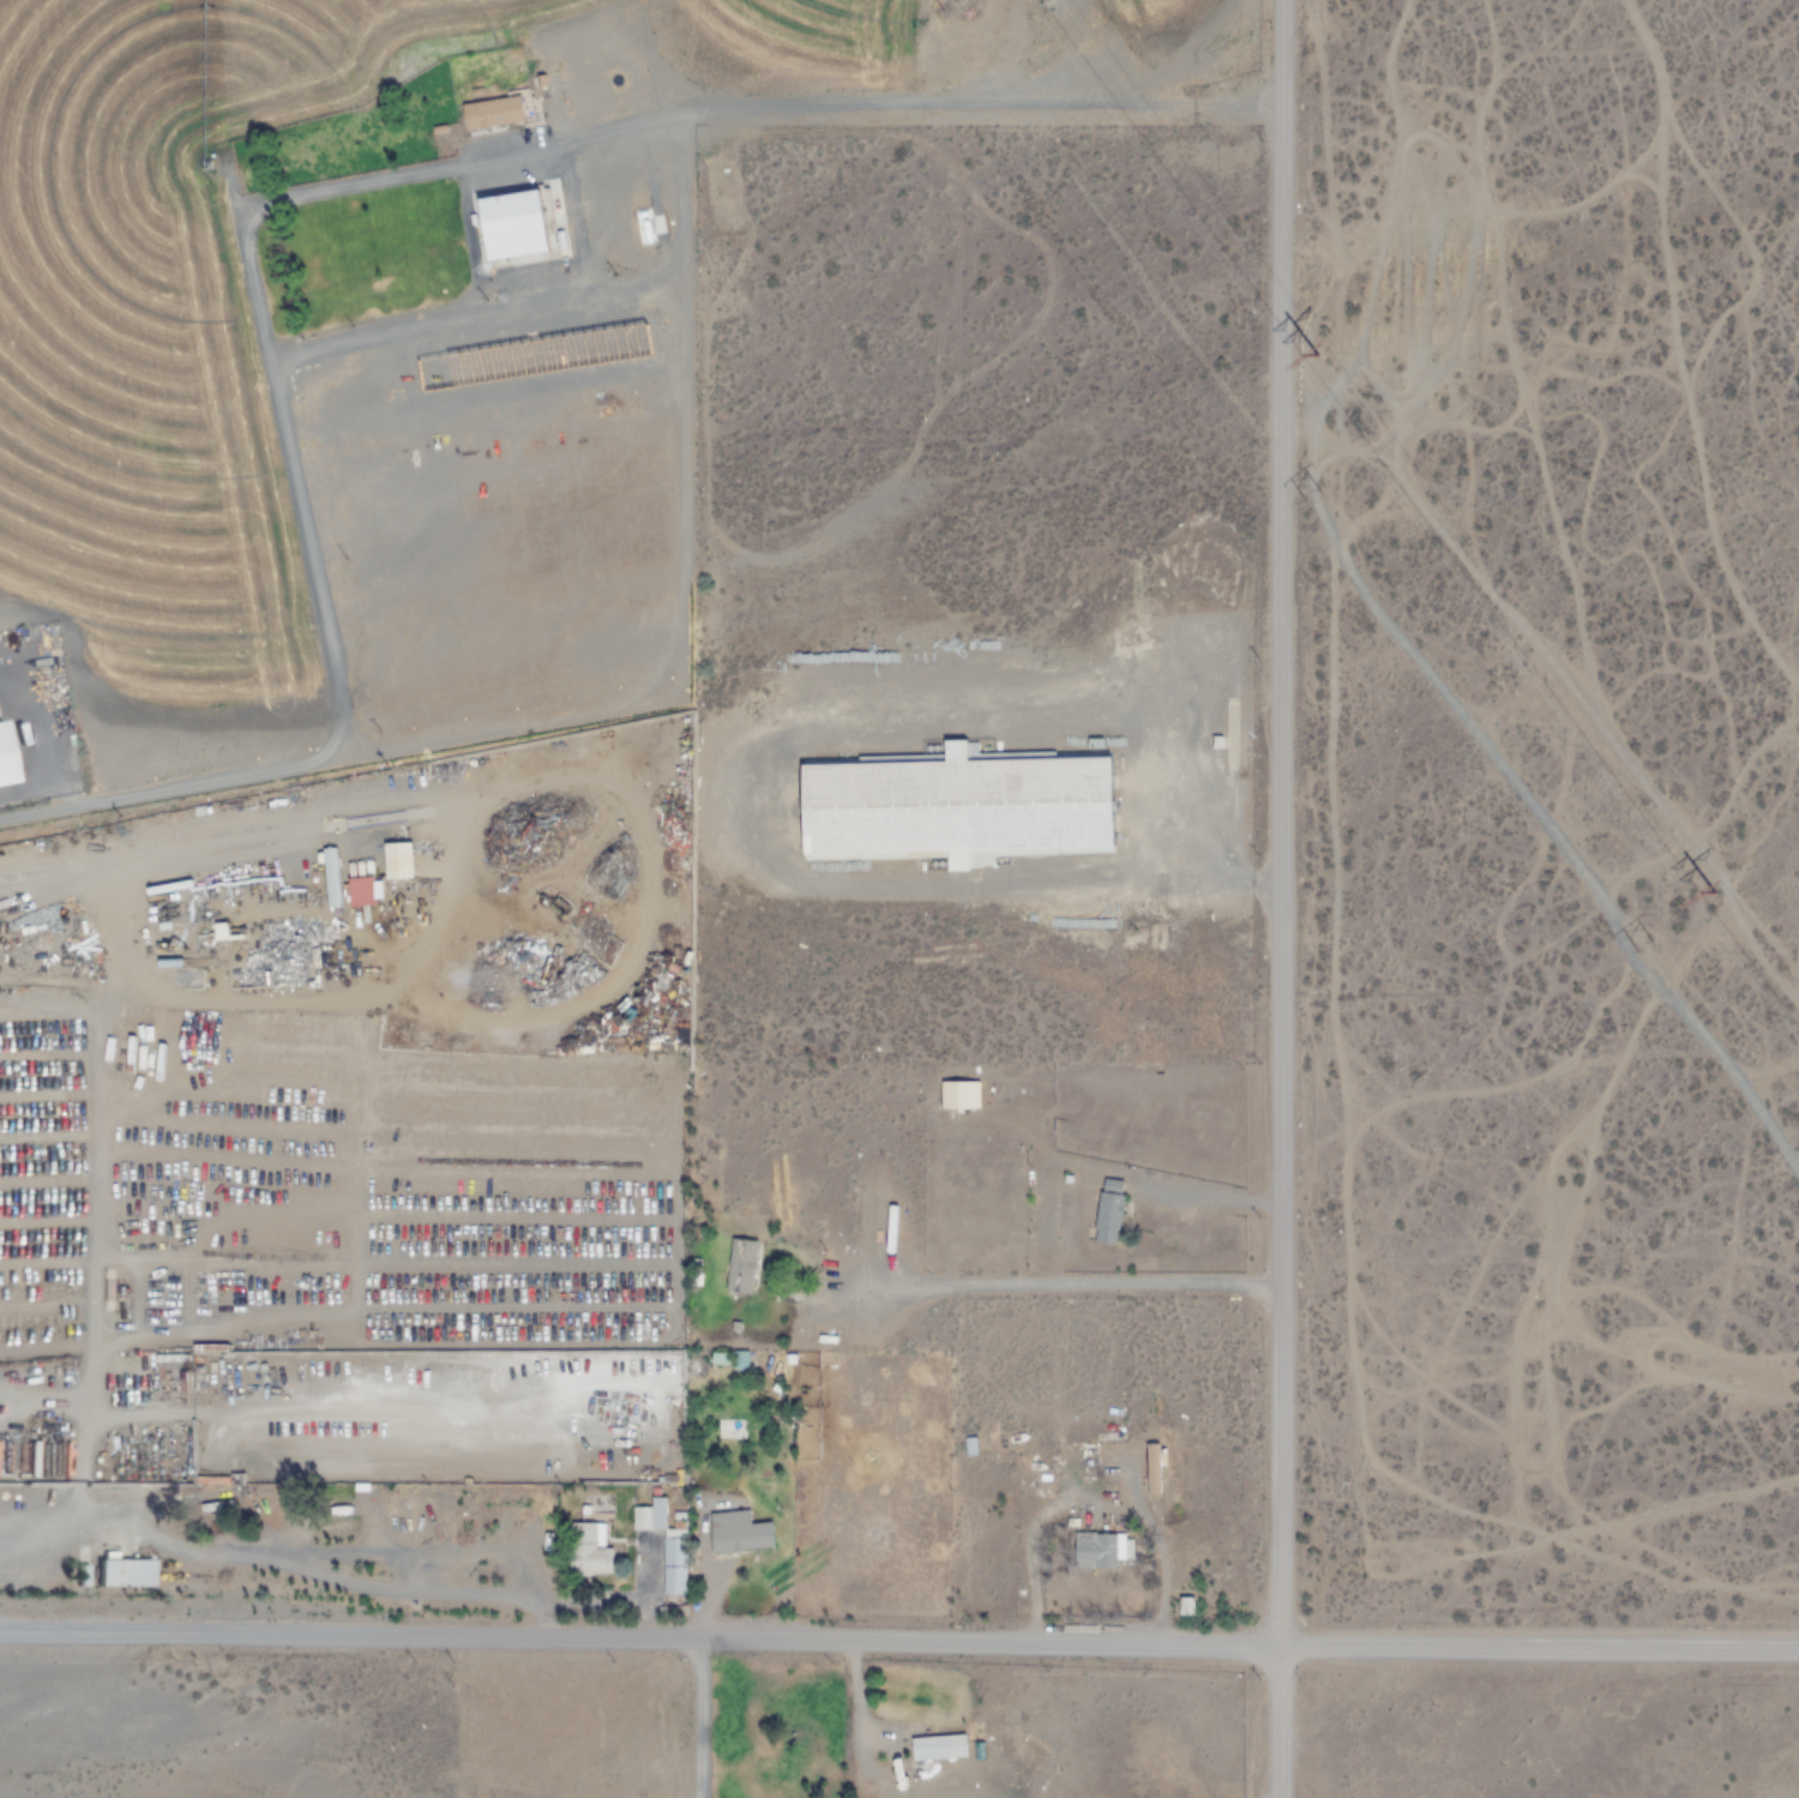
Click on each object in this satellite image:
building: (492, 112)
road: (1391, 172)
road: (1643, 172)
building: (517, 224)
road: (1392, 231)
road: (1749, 246)
road: (1338, 291)
road: (1418, 319)
power tower: (1314, 353)
road: (1674, 357)
road: (1511, 361)
road: (1458, 416)
power tower: (1313, 494)
road: (305, 531)
road: (1557, 667)
building: (2, 766)
road: (1505, 770)
building: (955, 807)
road: (1711, 818)
building: (397, 860)
building: (361, 891)
power tower: (1711, 891)
road: (1277, 898)
building: (219, 931)
power tower: (1649, 943)
road: (1798, 961)
road: (1716, 982)
road: (1768, 1069)
road: (1515, 1077)
building: (958, 1095)
road: (1534, 1168)
building: (865, 1174)
road: (1342, 1178)
road: (1671, 1196)
building: (1107, 1217)
road: (1427, 1234)
building: (741, 1265)
road: (1524, 1286)
road: (1546, 1311)
road: (1466, 1403)
building: (969, 1448)
building: (13, 1469)
building: (1151, 1469)
building: (399, 1503)
building: (738, 1533)
building: (670, 1544)
building: (588, 1550)
road: (1033, 1551)
building: (1101, 1551)
building: (124, 1574)
building: (1185, 1606)
road: (899, 1640)
road: (702, 1718)
road: (855, 1722)

